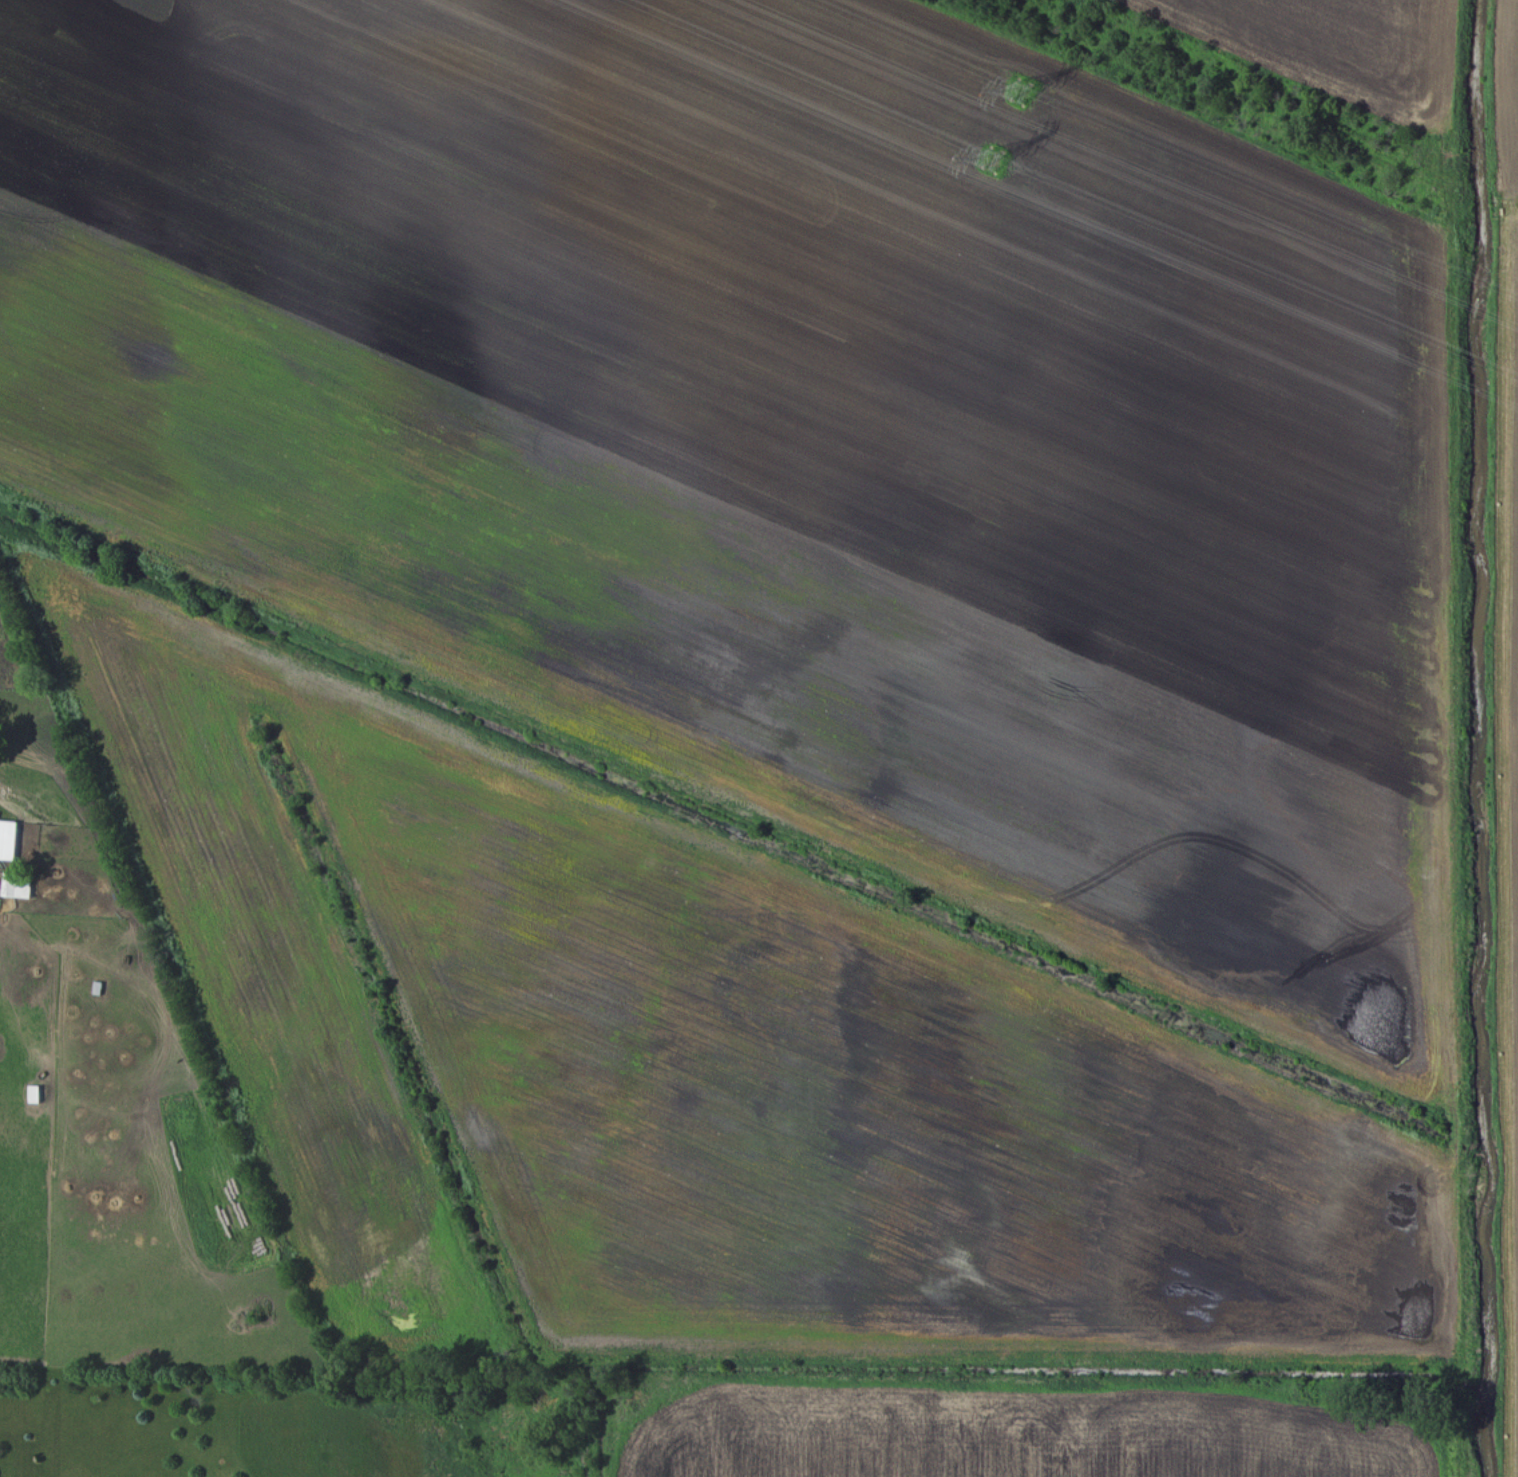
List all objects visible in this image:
power tower: (1022, 92)
power tower: (992, 159)
building: (8, 838)
building: (18, 884)

